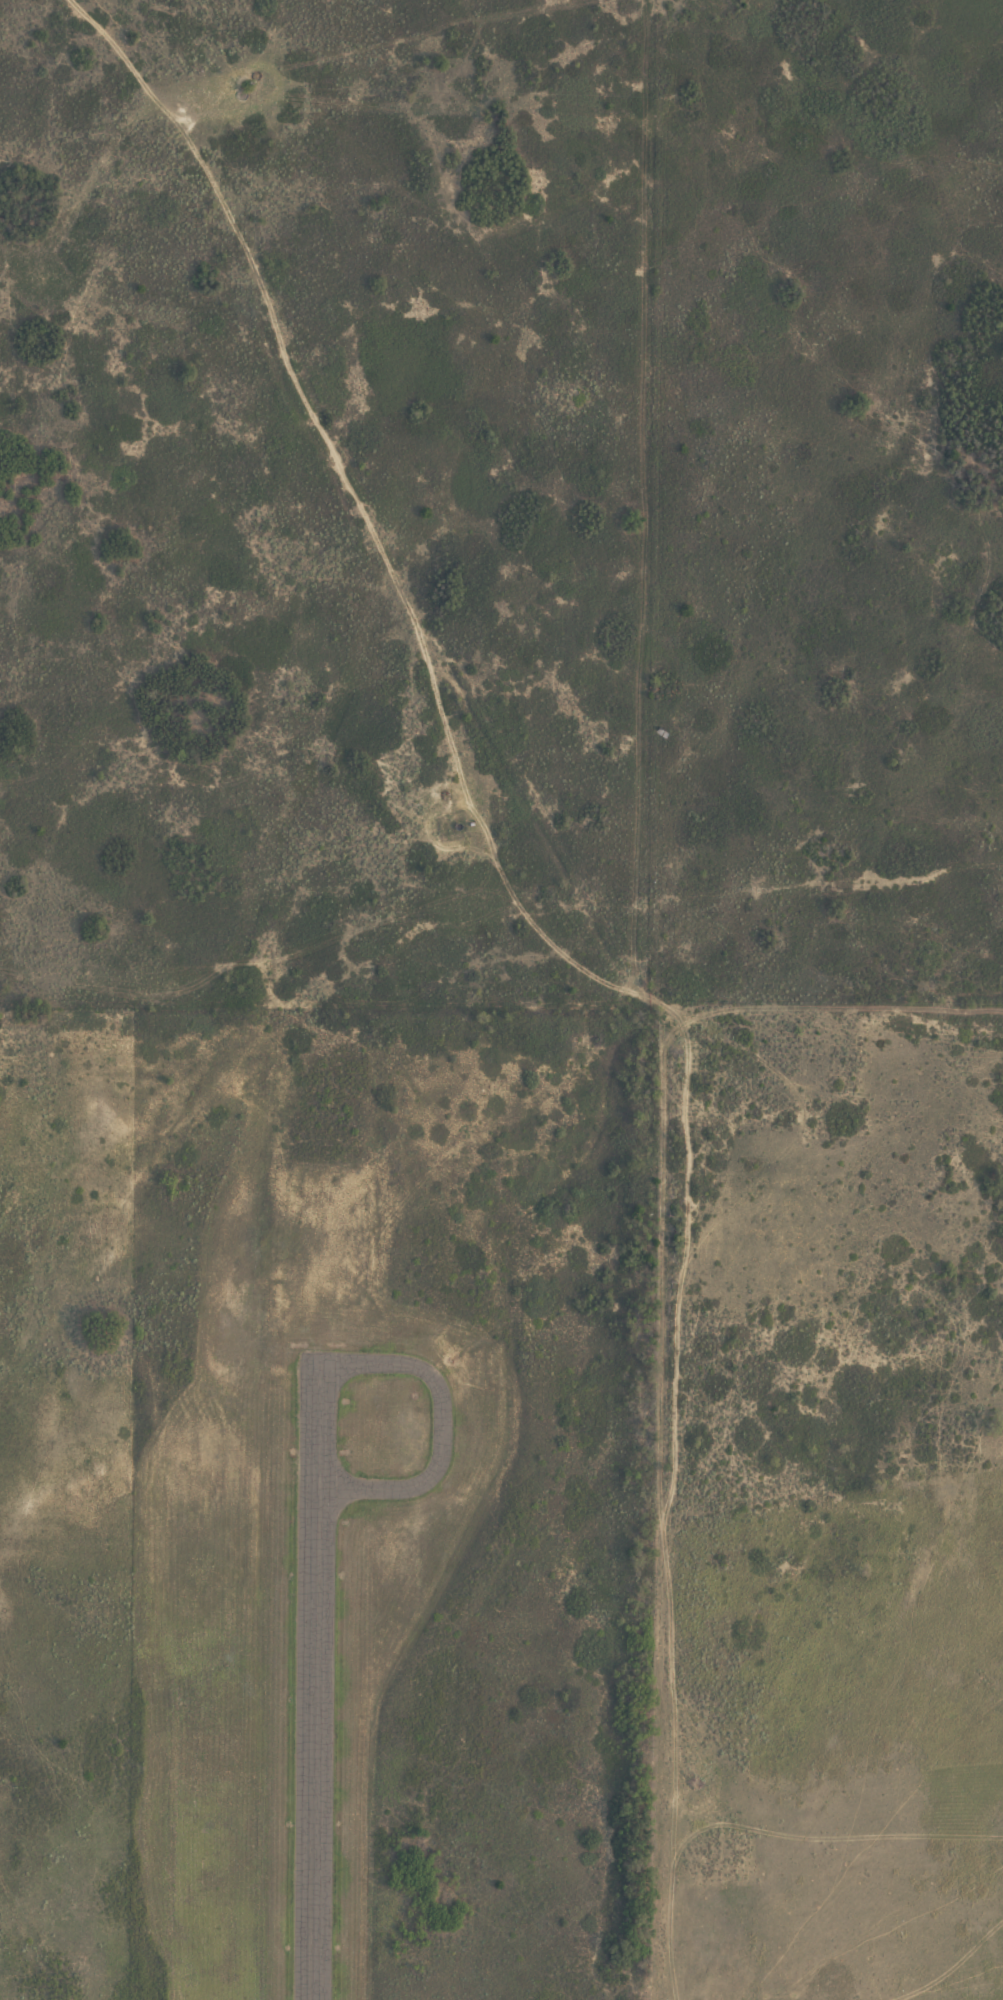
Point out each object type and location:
airport taxiway: (442, 1421)
airport: (385, 1503)
airport runway: (316, 1675)

